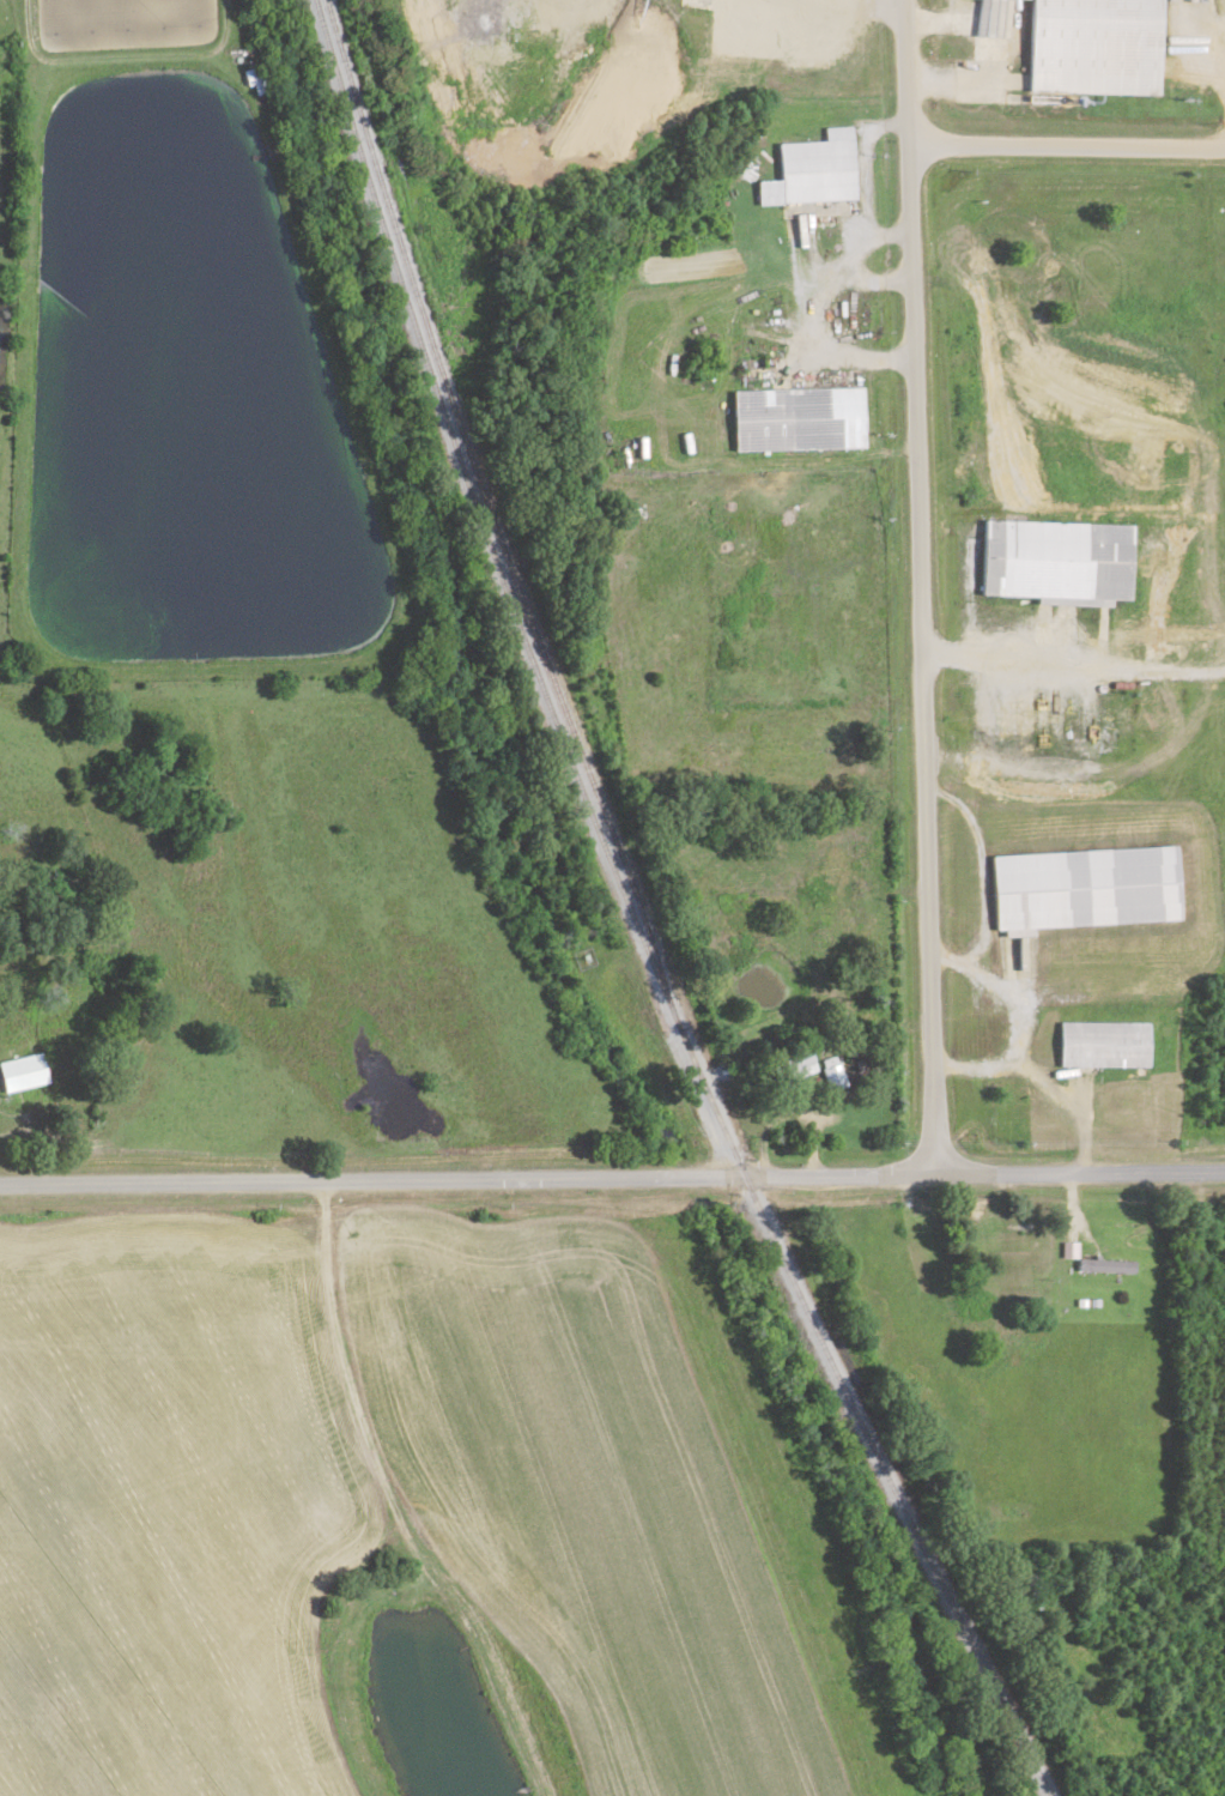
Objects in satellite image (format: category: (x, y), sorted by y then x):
building: (1091, 46)
building: (248, 74)
road: (1066, 143)
building: (817, 167)
building: (793, 416)
railway: (491, 504)
building: (1055, 558)
road: (918, 586)
building: (1081, 885)
railway: (633, 918)
building: (1100, 1041)
road: (612, 1175)
building: (1102, 1265)

